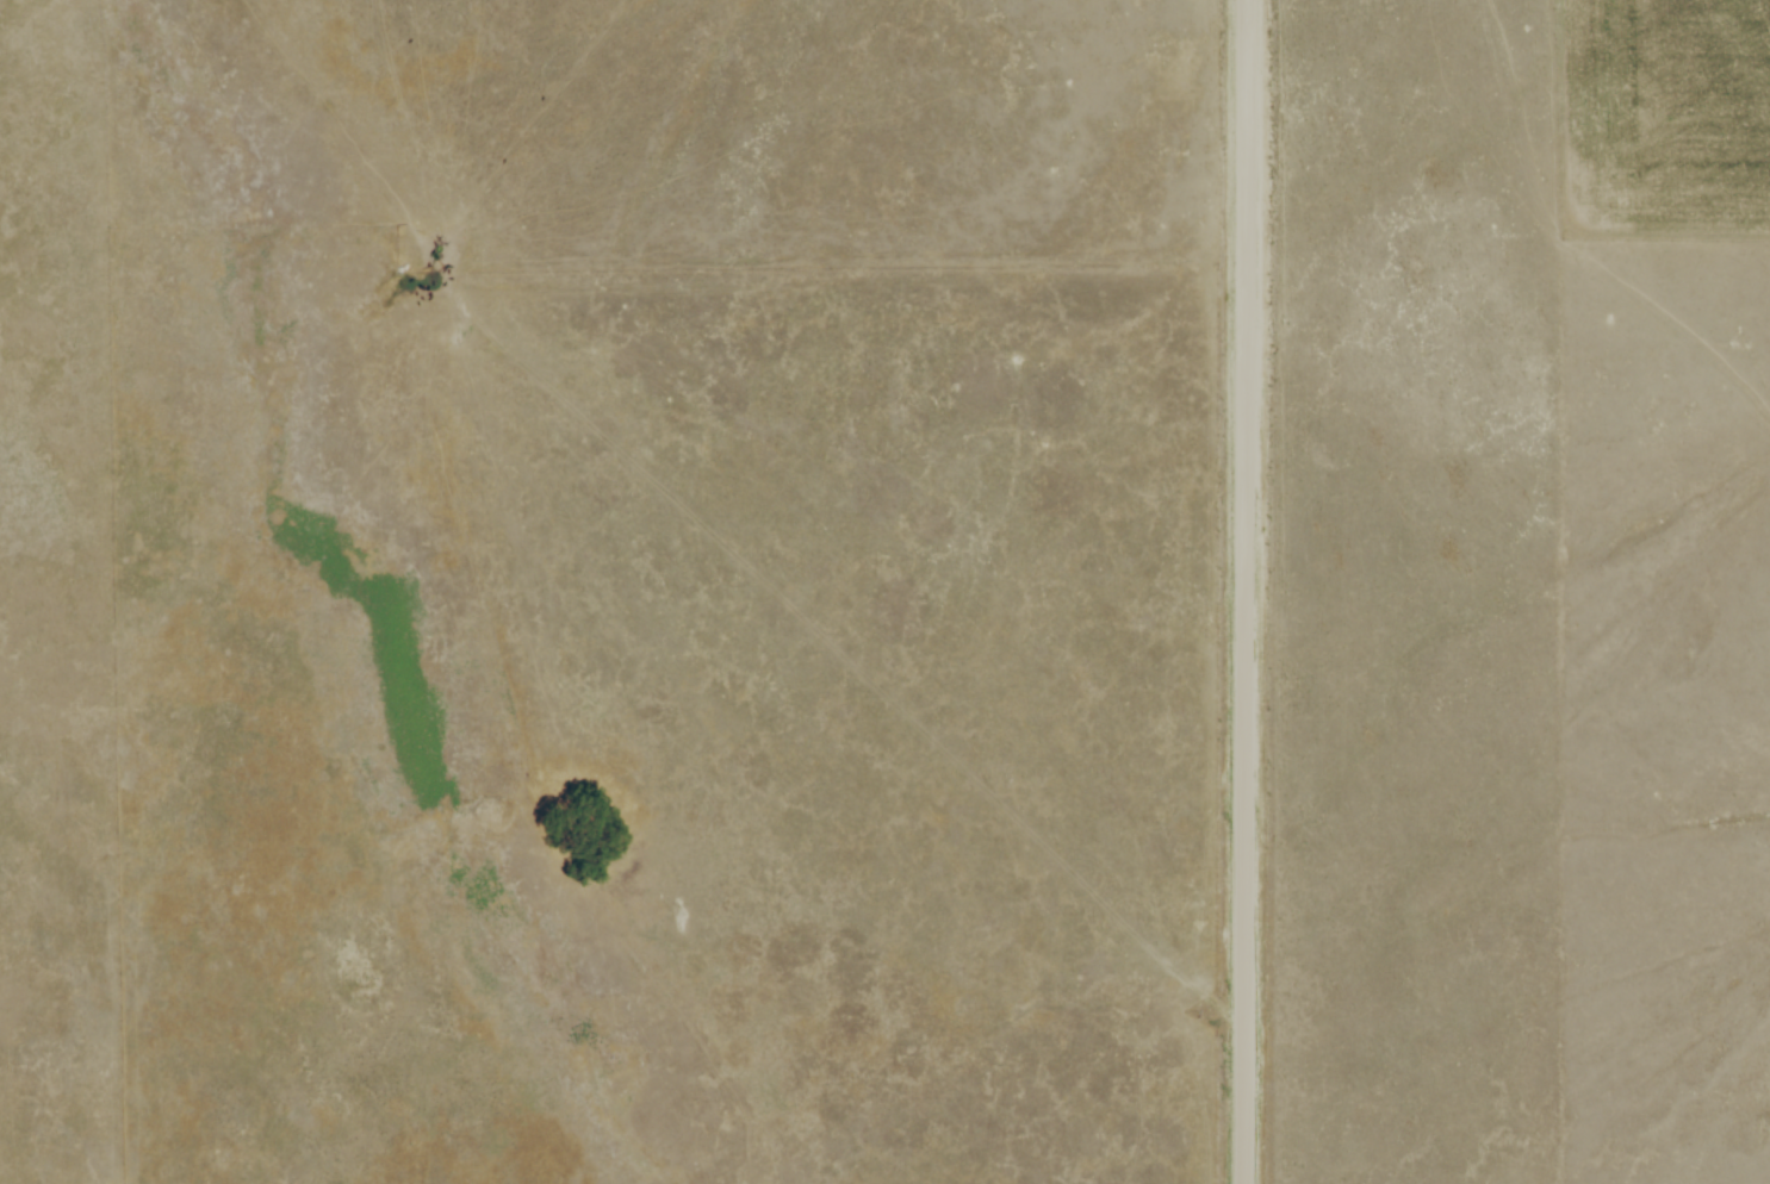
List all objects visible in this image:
road: (1249, 592)

